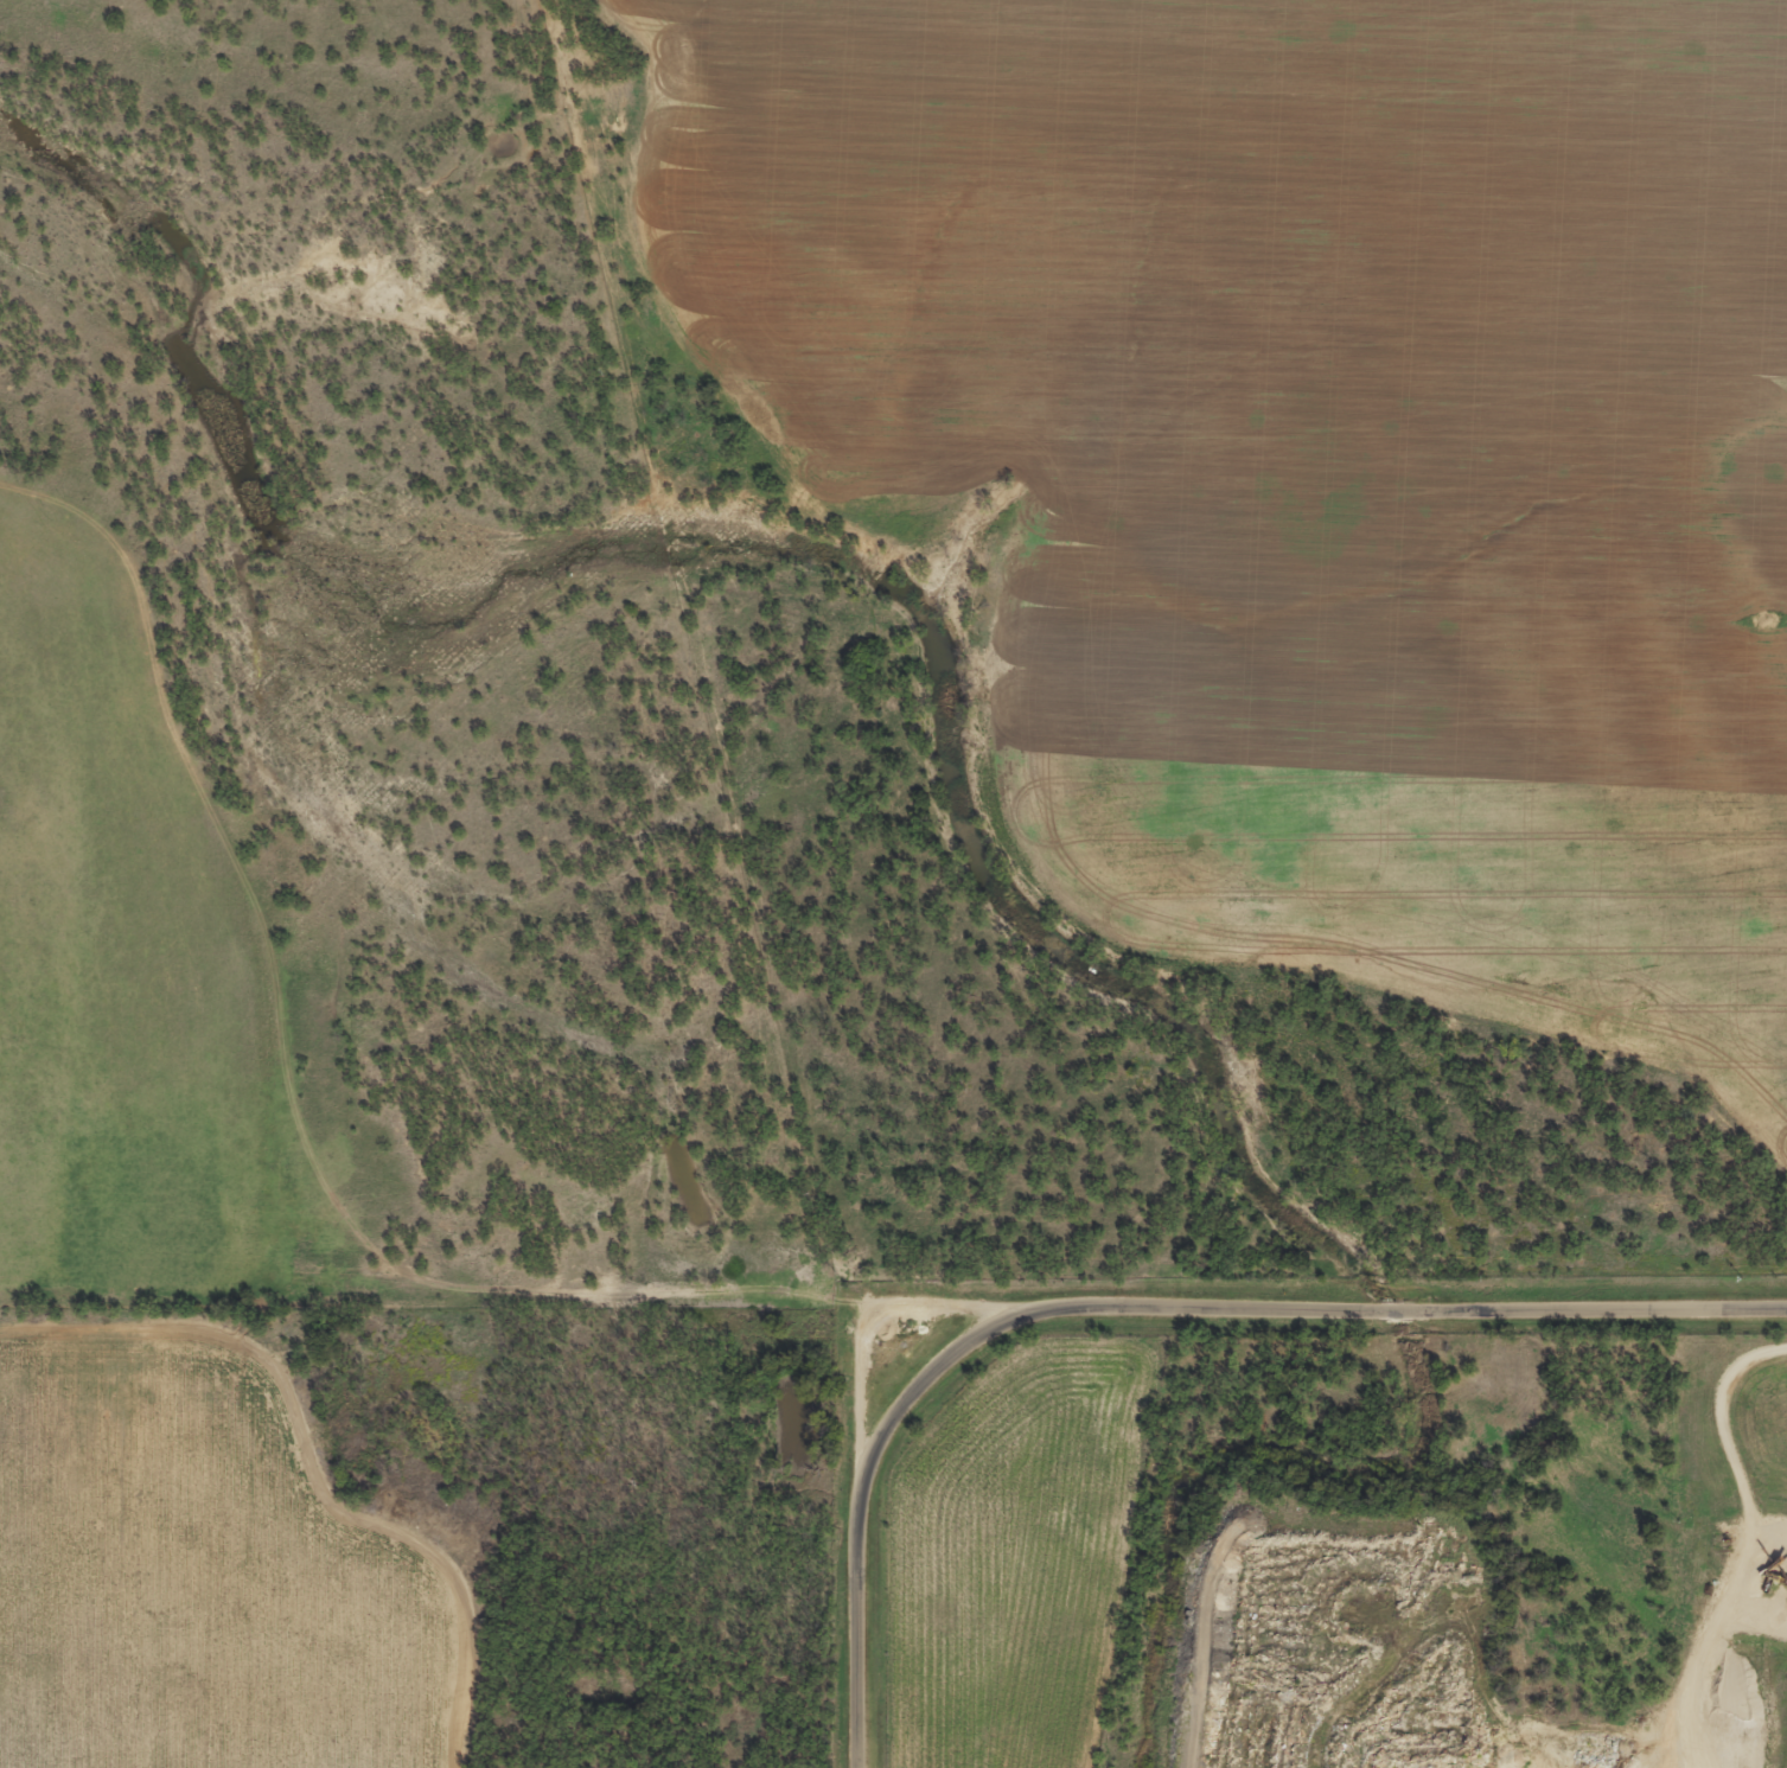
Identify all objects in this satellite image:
road: (306, 1130)
road: (1147, 1308)

